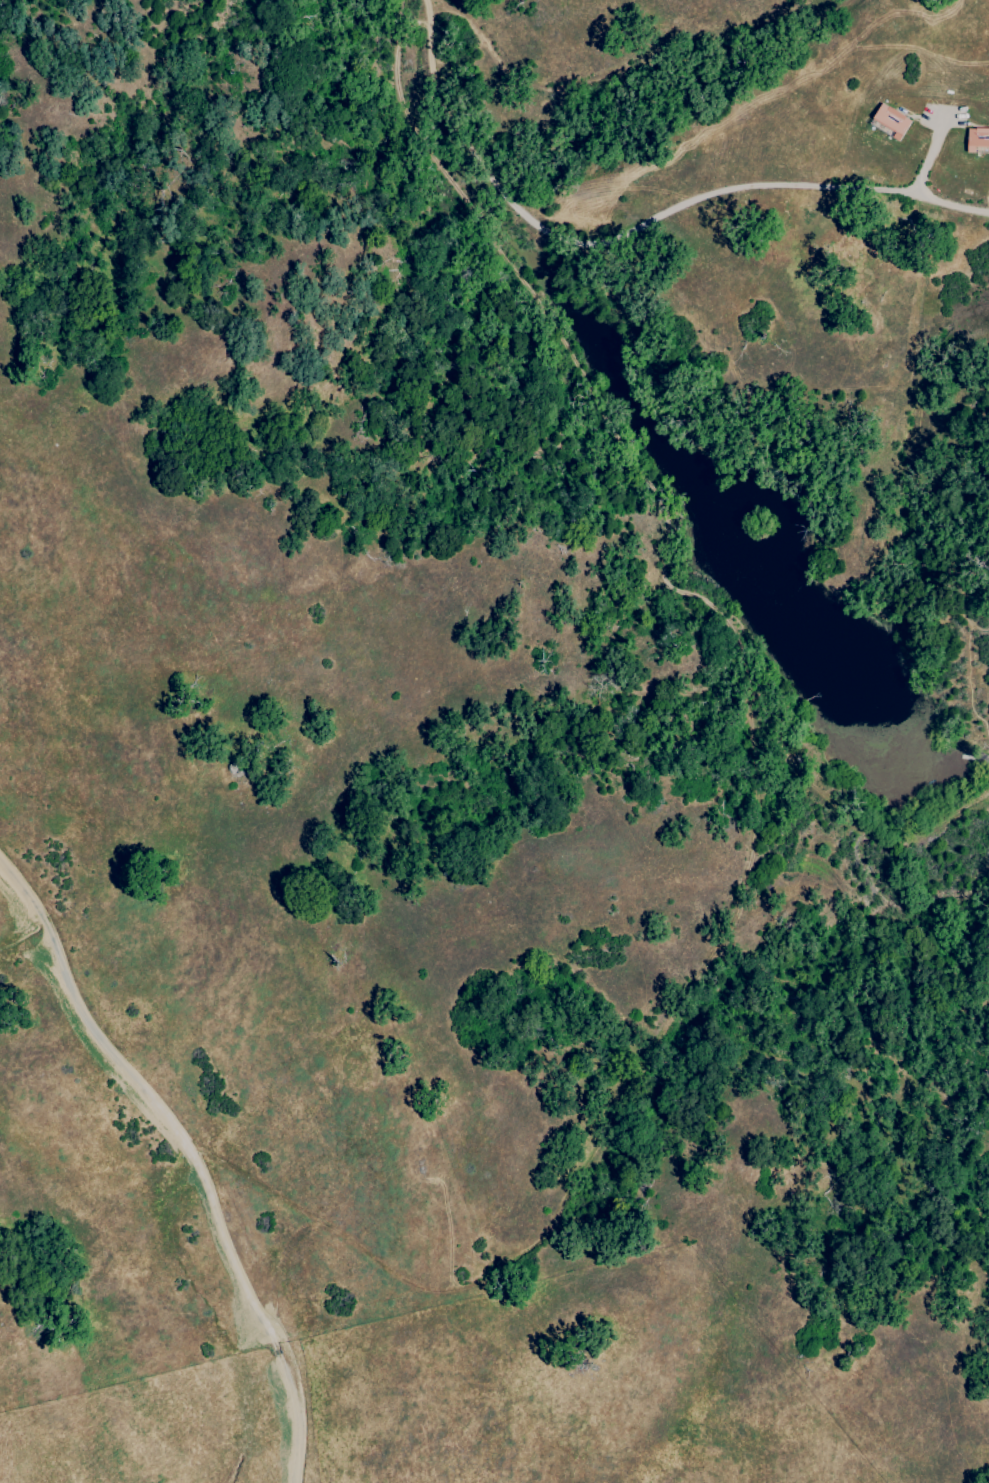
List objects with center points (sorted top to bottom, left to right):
building: (888, 122)
building: (975, 140)
road: (634, 226)
road: (193, 1154)

